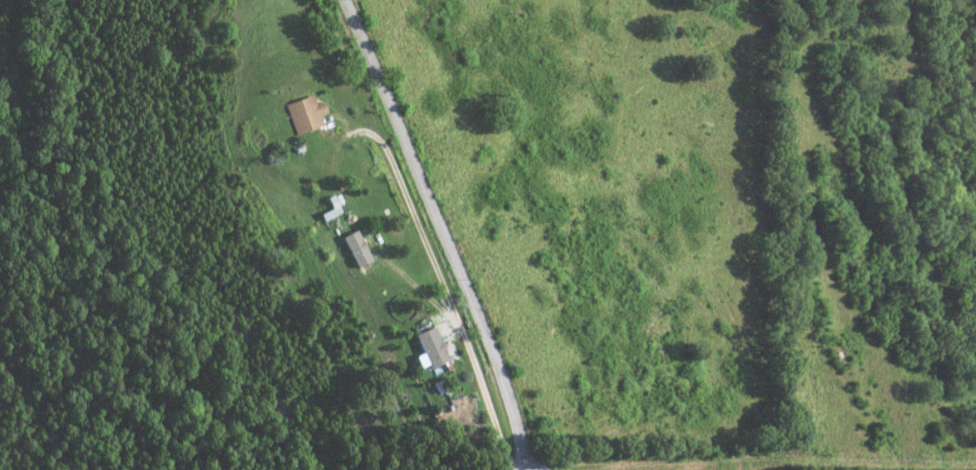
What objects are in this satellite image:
building: (304, 113)
building: (330, 209)
road: (449, 232)
building: (355, 247)
building: (430, 346)

